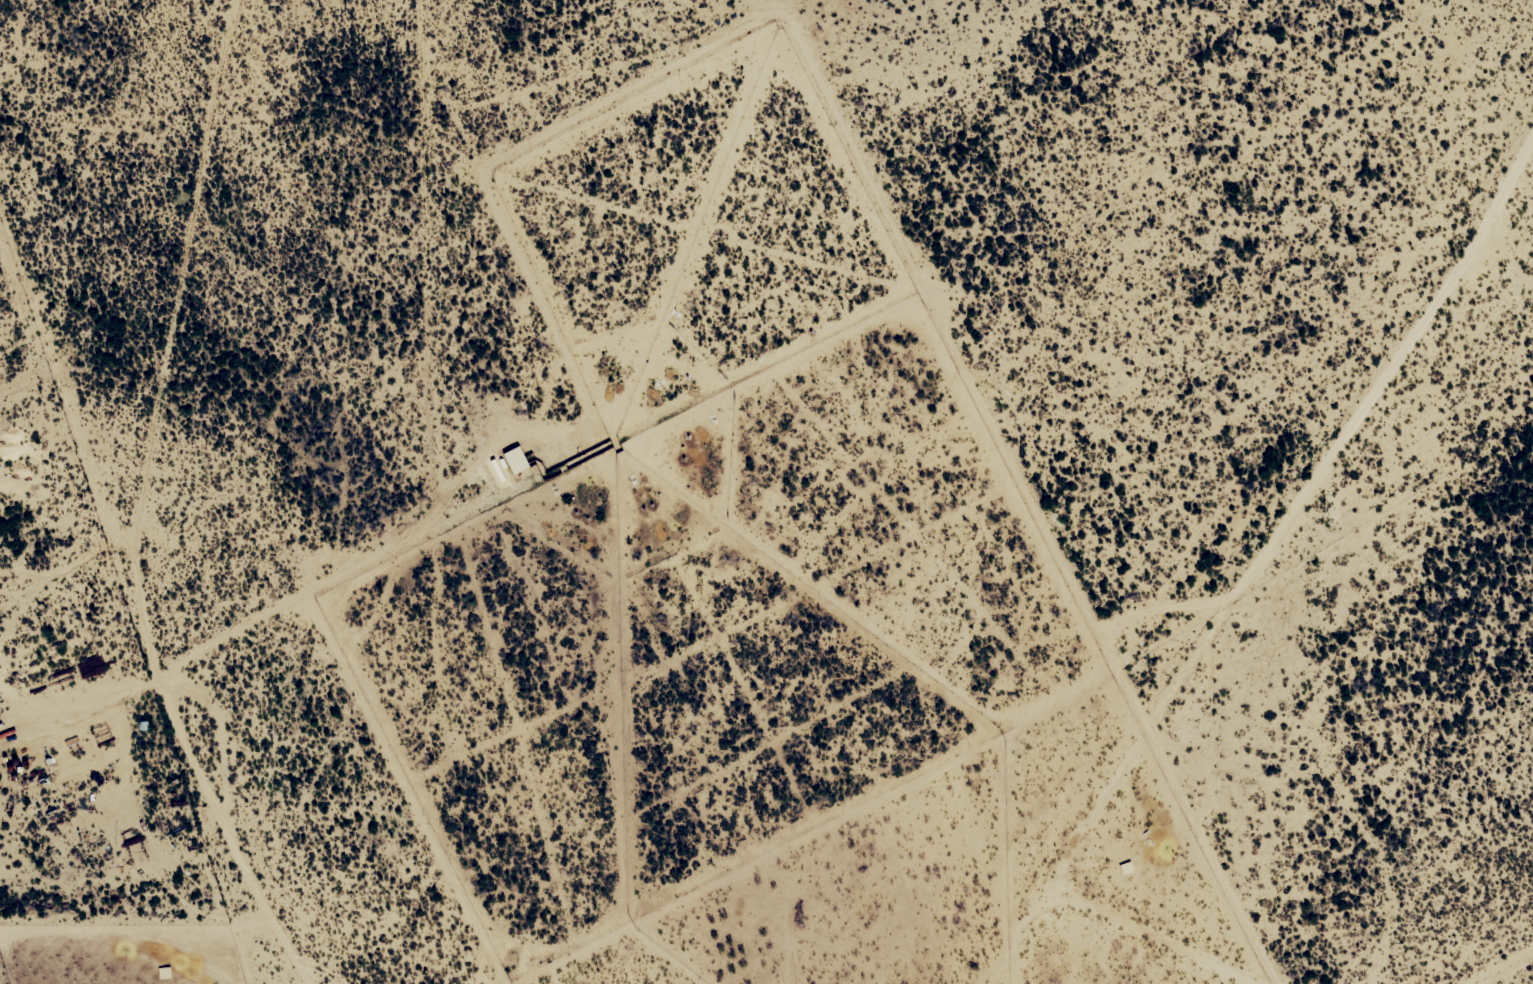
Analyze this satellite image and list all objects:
road: (1241, 576)

